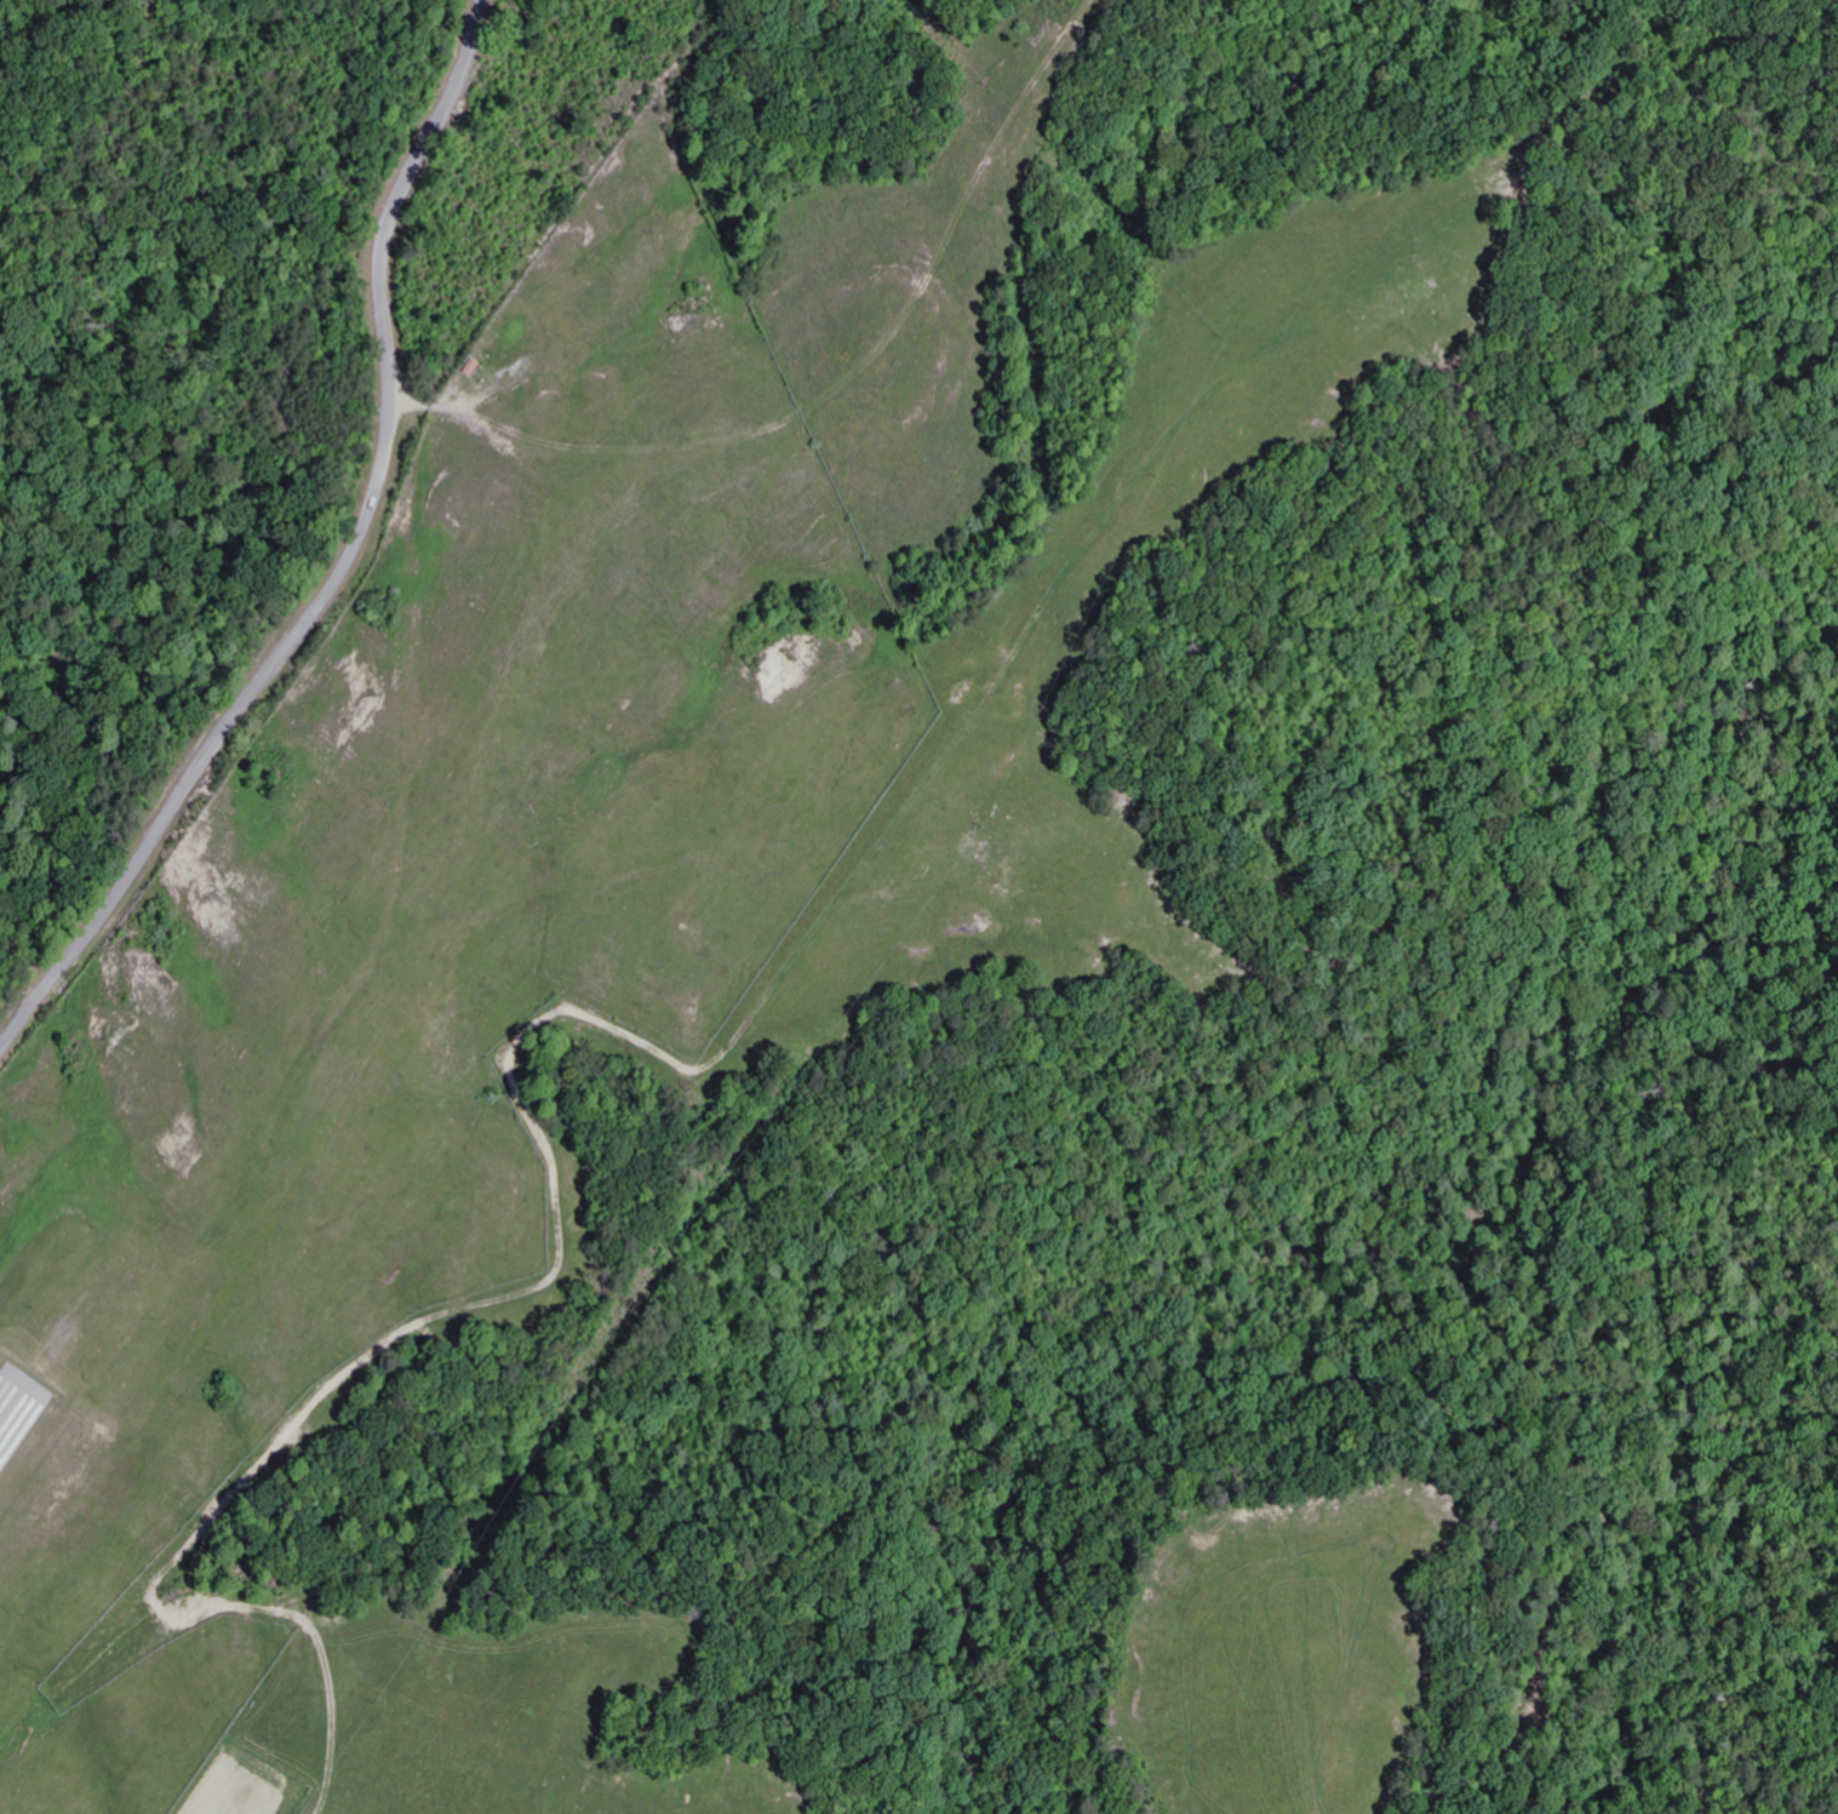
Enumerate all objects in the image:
road: (344, 563)
airport: (424, 932)
airport runway: (17, 1403)

